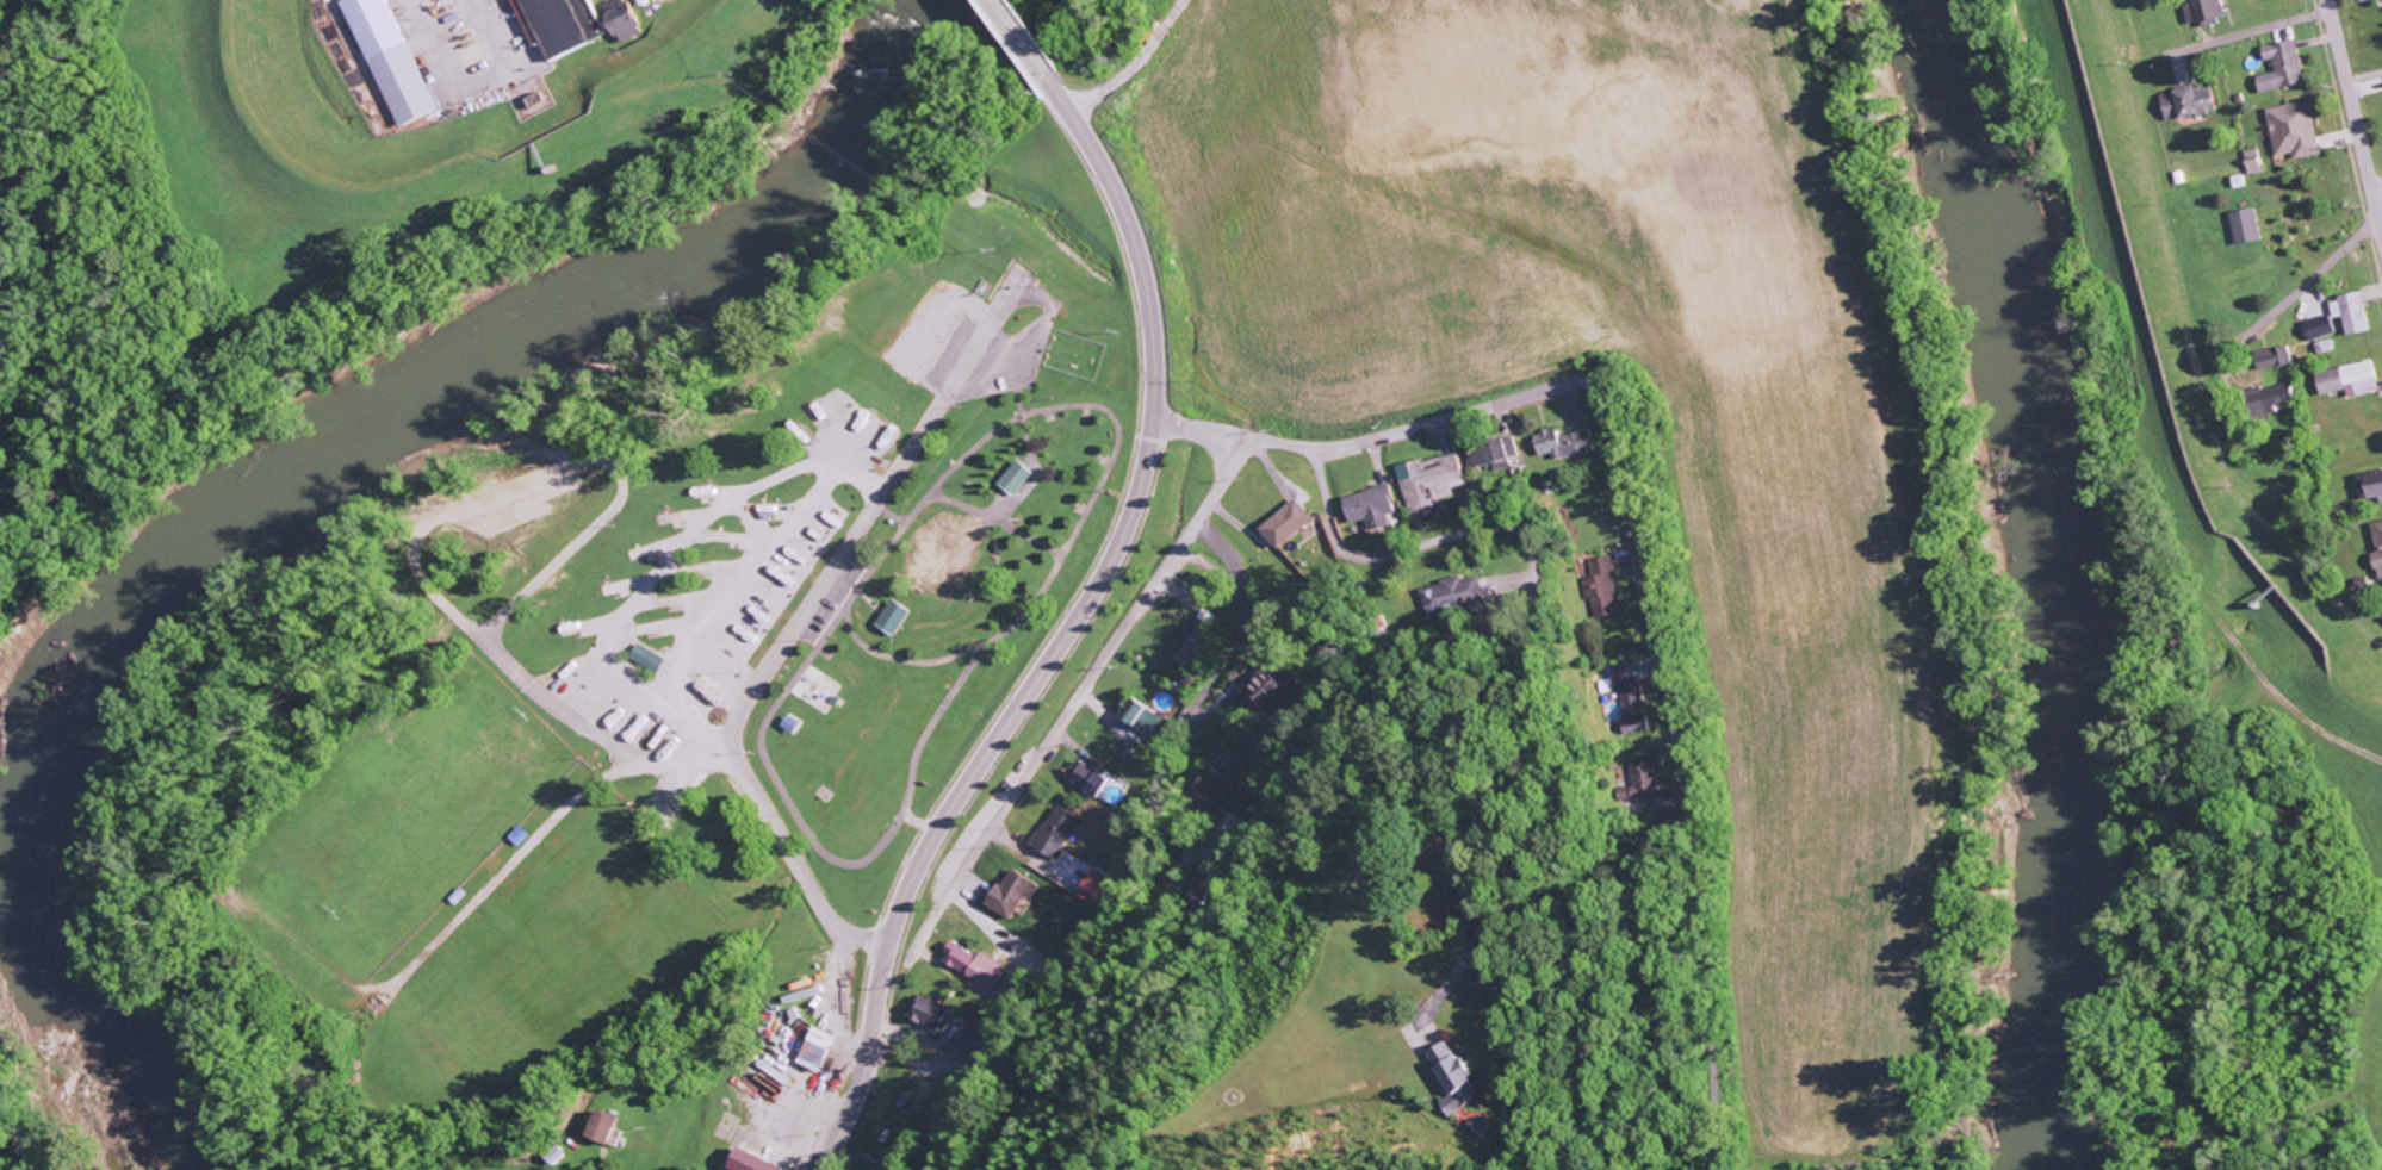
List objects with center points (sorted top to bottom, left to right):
building: (2202, 11)
building: (626, 19)
building: (566, 25)
road: (2260, 31)
building: (396, 60)
building: (2281, 67)
building: (2186, 102)
road: (2355, 116)
building: (2293, 130)
building: (2252, 161)
building: (2245, 226)
road: (2308, 282)
building: (2350, 312)
building: (2318, 328)
parking lot: (995, 342)
building: (2272, 357)
building: (2347, 379)
building: (2265, 399)
road: (1373, 438)
building: (1567, 443)
building: (1491, 453)
road: (575, 460)
river: (258, 471)
building: (1021, 478)
building: (1427, 481)
building: (2372, 485)
road: (622, 490)
parking lot: (510, 498)
building: (1370, 506)
road: (892, 511)
road: (753, 517)
park: (831, 523)
building: (1289, 523)
road: (1072, 534)
building: (2377, 543)
road: (666, 559)
road: (739, 568)
river: (2068, 577)
building: (1603, 587)
road: (1092, 592)
building: (1452, 595)
building: (898, 616)
road: (1534, 616)
building: (1190, 646)
building: (653, 658)
road: (759, 677)
building: (1263, 690)
road: (548, 697)
road: (1074, 701)
building: (1633, 704)
building: (1142, 716)
road: (1185, 718)
road: (1683, 767)
building: (1643, 780)
building: (1094, 782)
building: (1057, 830)
road: (532, 839)
road: (823, 852)
building: (1091, 889)
building: (1013, 892)
park: (495, 894)
park: (544, 959)
building: (974, 965)
building: (931, 1012)
park: (480, 1014)
building: (966, 1043)
road: (1048, 1044)
building: (813, 1047)
building: (1457, 1078)
building: (610, 1127)
building: (749, 1160)

